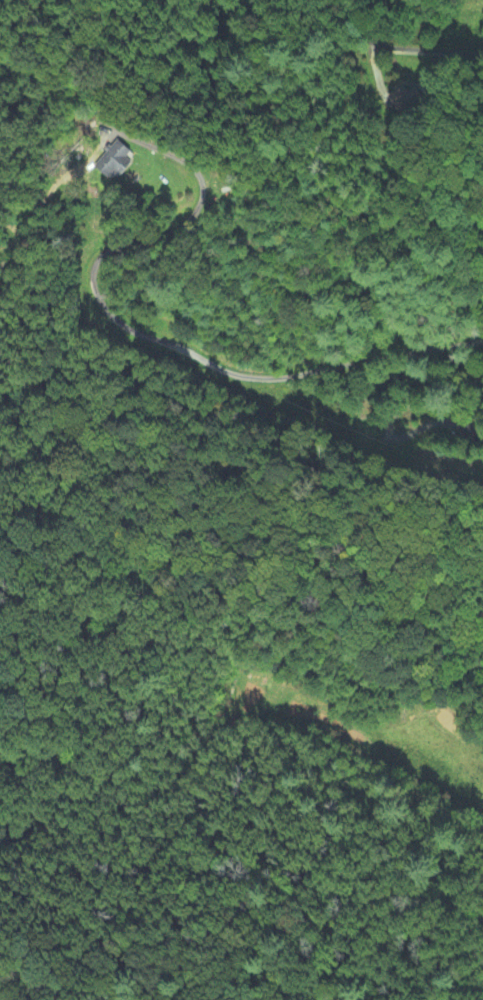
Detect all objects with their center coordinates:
building: (405, 98)
building: (109, 161)

